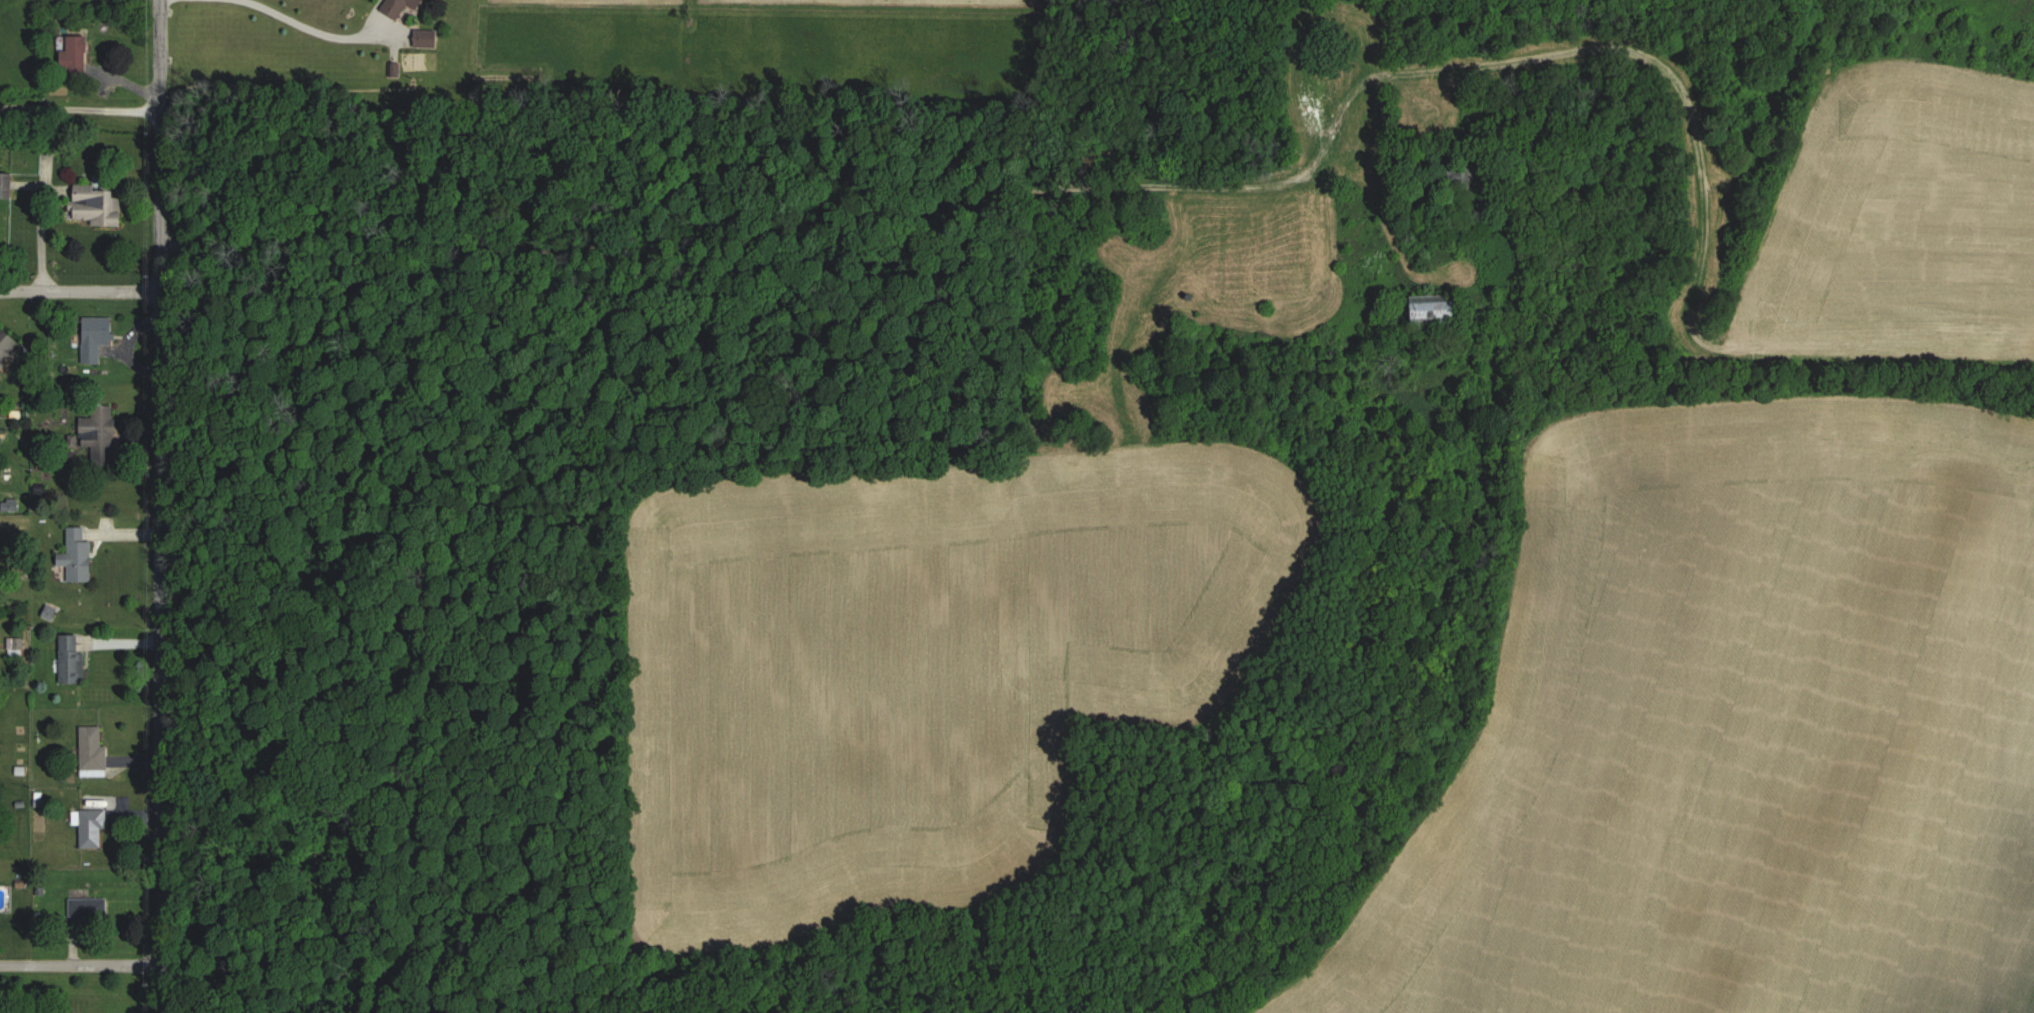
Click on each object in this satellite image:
building: (402, 6)
road: (314, 26)
building: (429, 38)
building: (78, 59)
road: (78, 103)
building: (7, 186)
building: (97, 207)
road: (40, 221)
road: (78, 286)
building: (1437, 313)
building: (97, 338)
building: (7, 344)
building: (99, 434)
road: (156, 506)
building: (79, 557)
building: (17, 646)
building: (73, 661)
building: (94, 753)
building: (90, 827)
building: (88, 908)
road: (78, 964)

